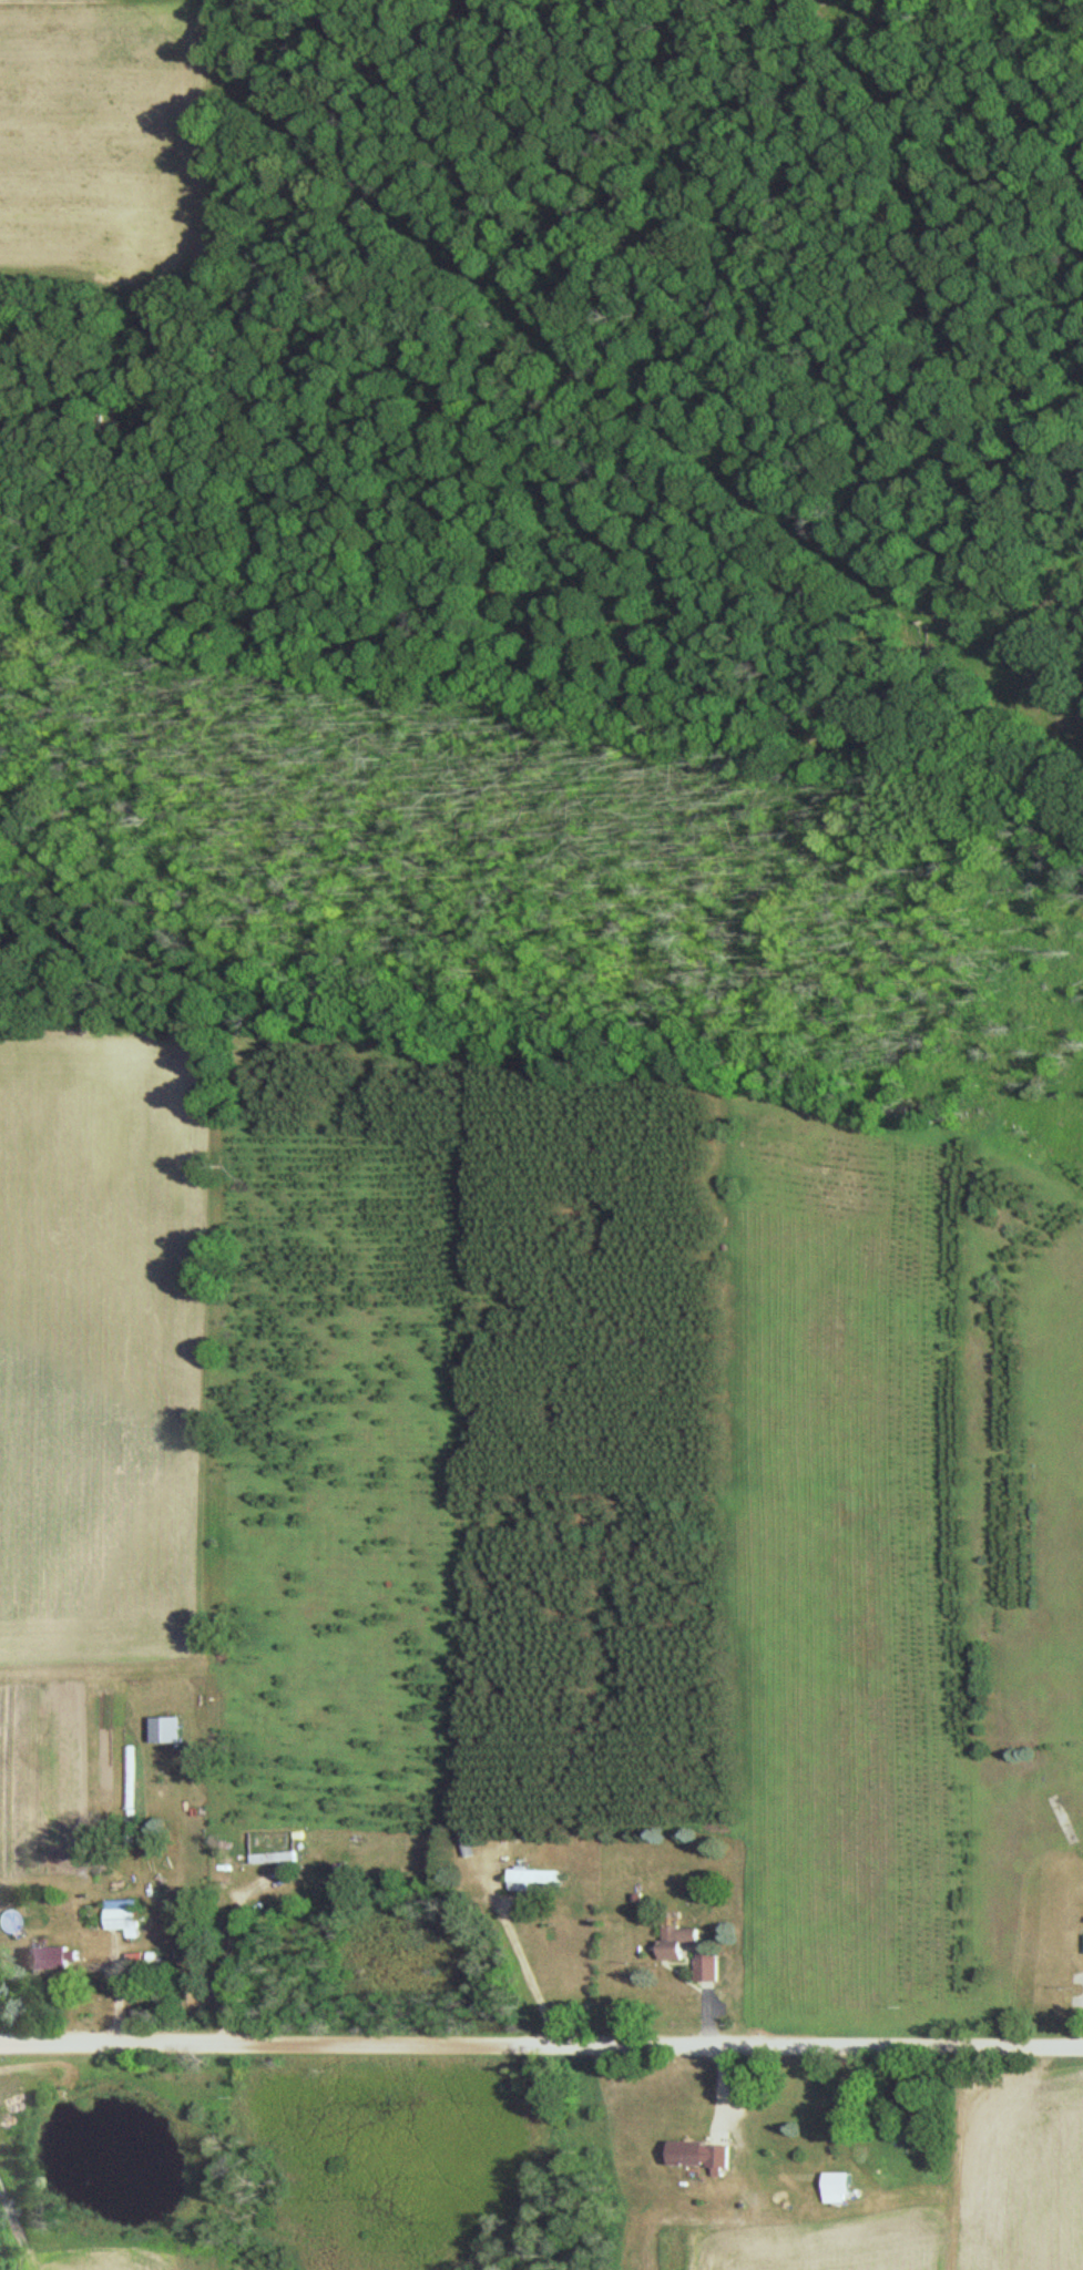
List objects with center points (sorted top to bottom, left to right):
building: (167, 1729)
building: (1062, 1820)
building: (276, 1857)
building: (530, 1879)
building: (123, 1916)
building: (676, 1942)
road: (229, 1946)
building: (50, 1957)
building: (704, 1967)
road: (541, 2045)
building: (697, 2155)
building: (838, 2187)

